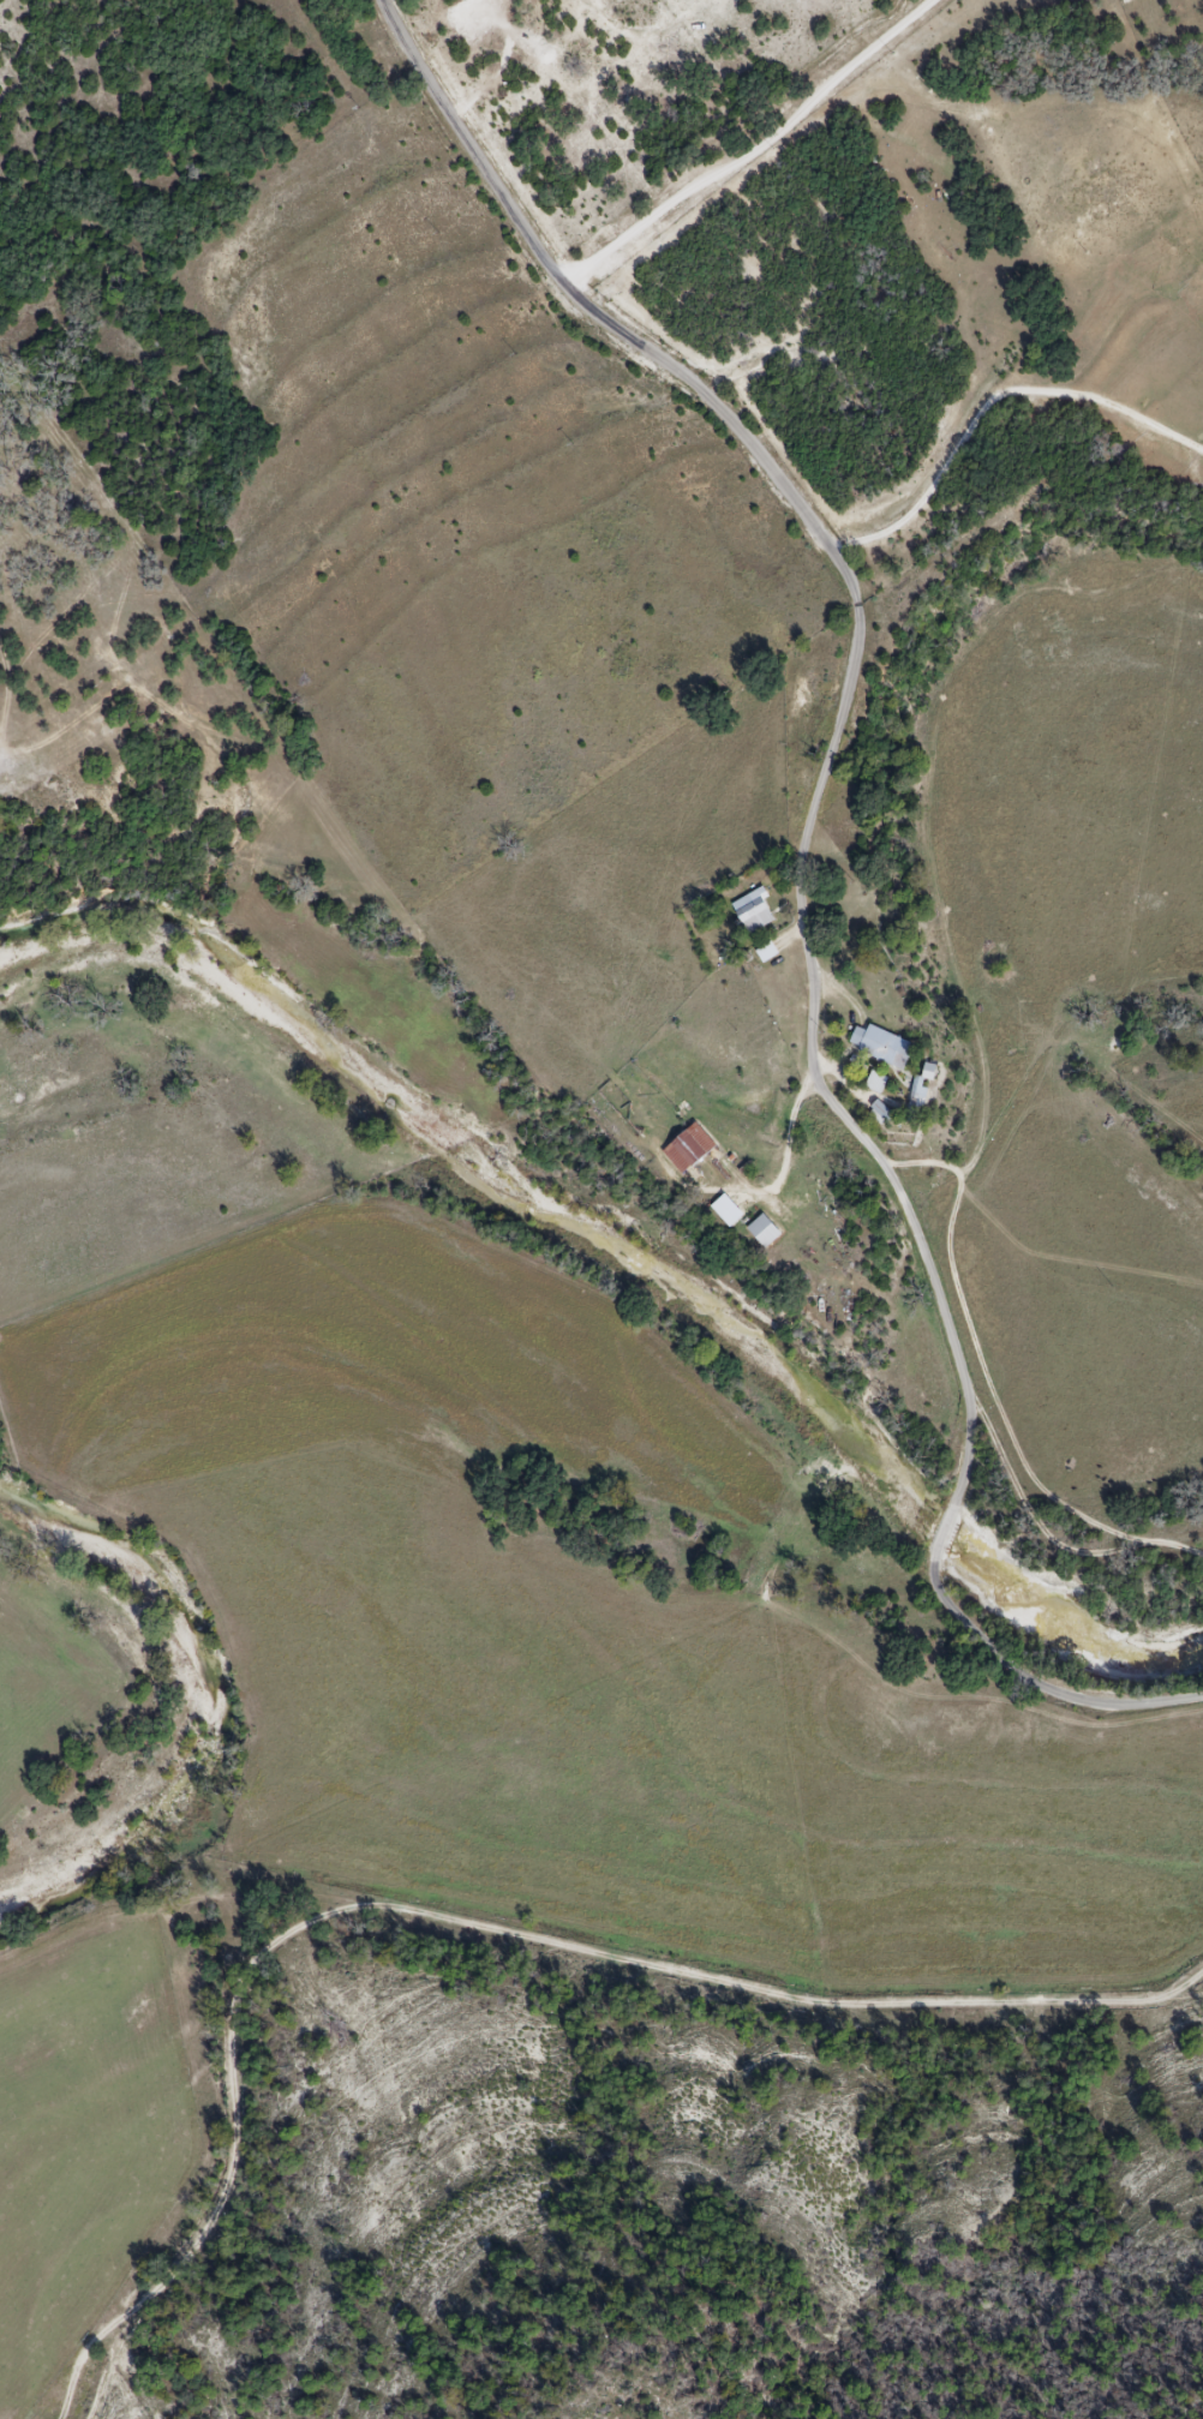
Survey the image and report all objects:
road: (754, 150)
road: (844, 679)
building: (754, 912)
building: (882, 1046)
building: (875, 1083)
road: (789, 1142)
building: (688, 1148)
building: (764, 1231)
road: (946, 1529)
road: (1041, 1685)

